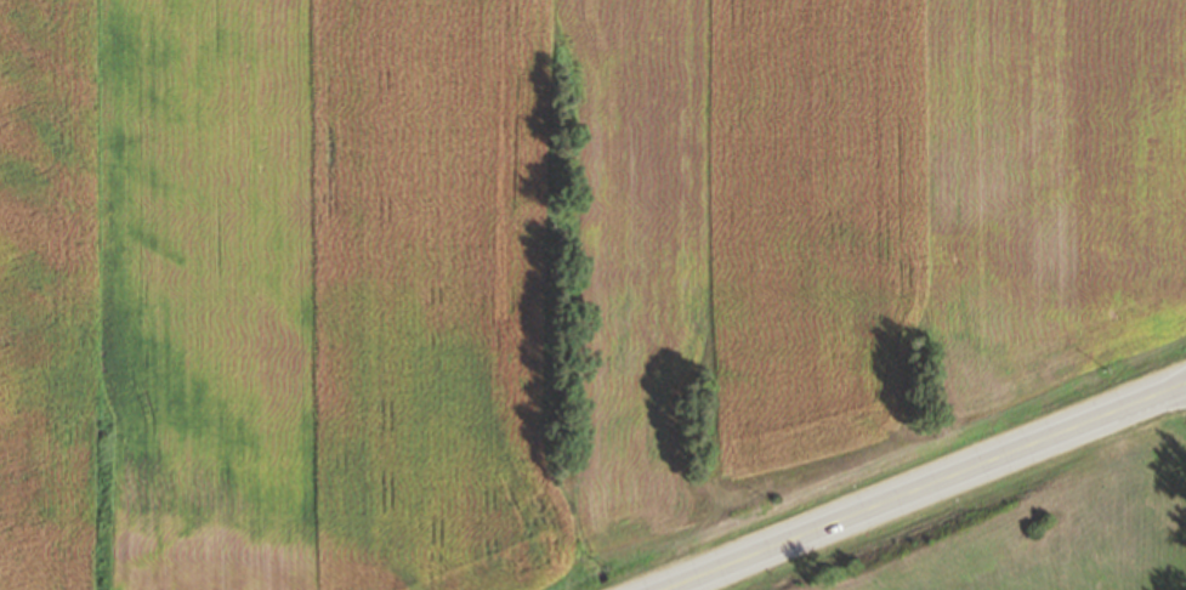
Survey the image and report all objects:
road: (924, 487)

